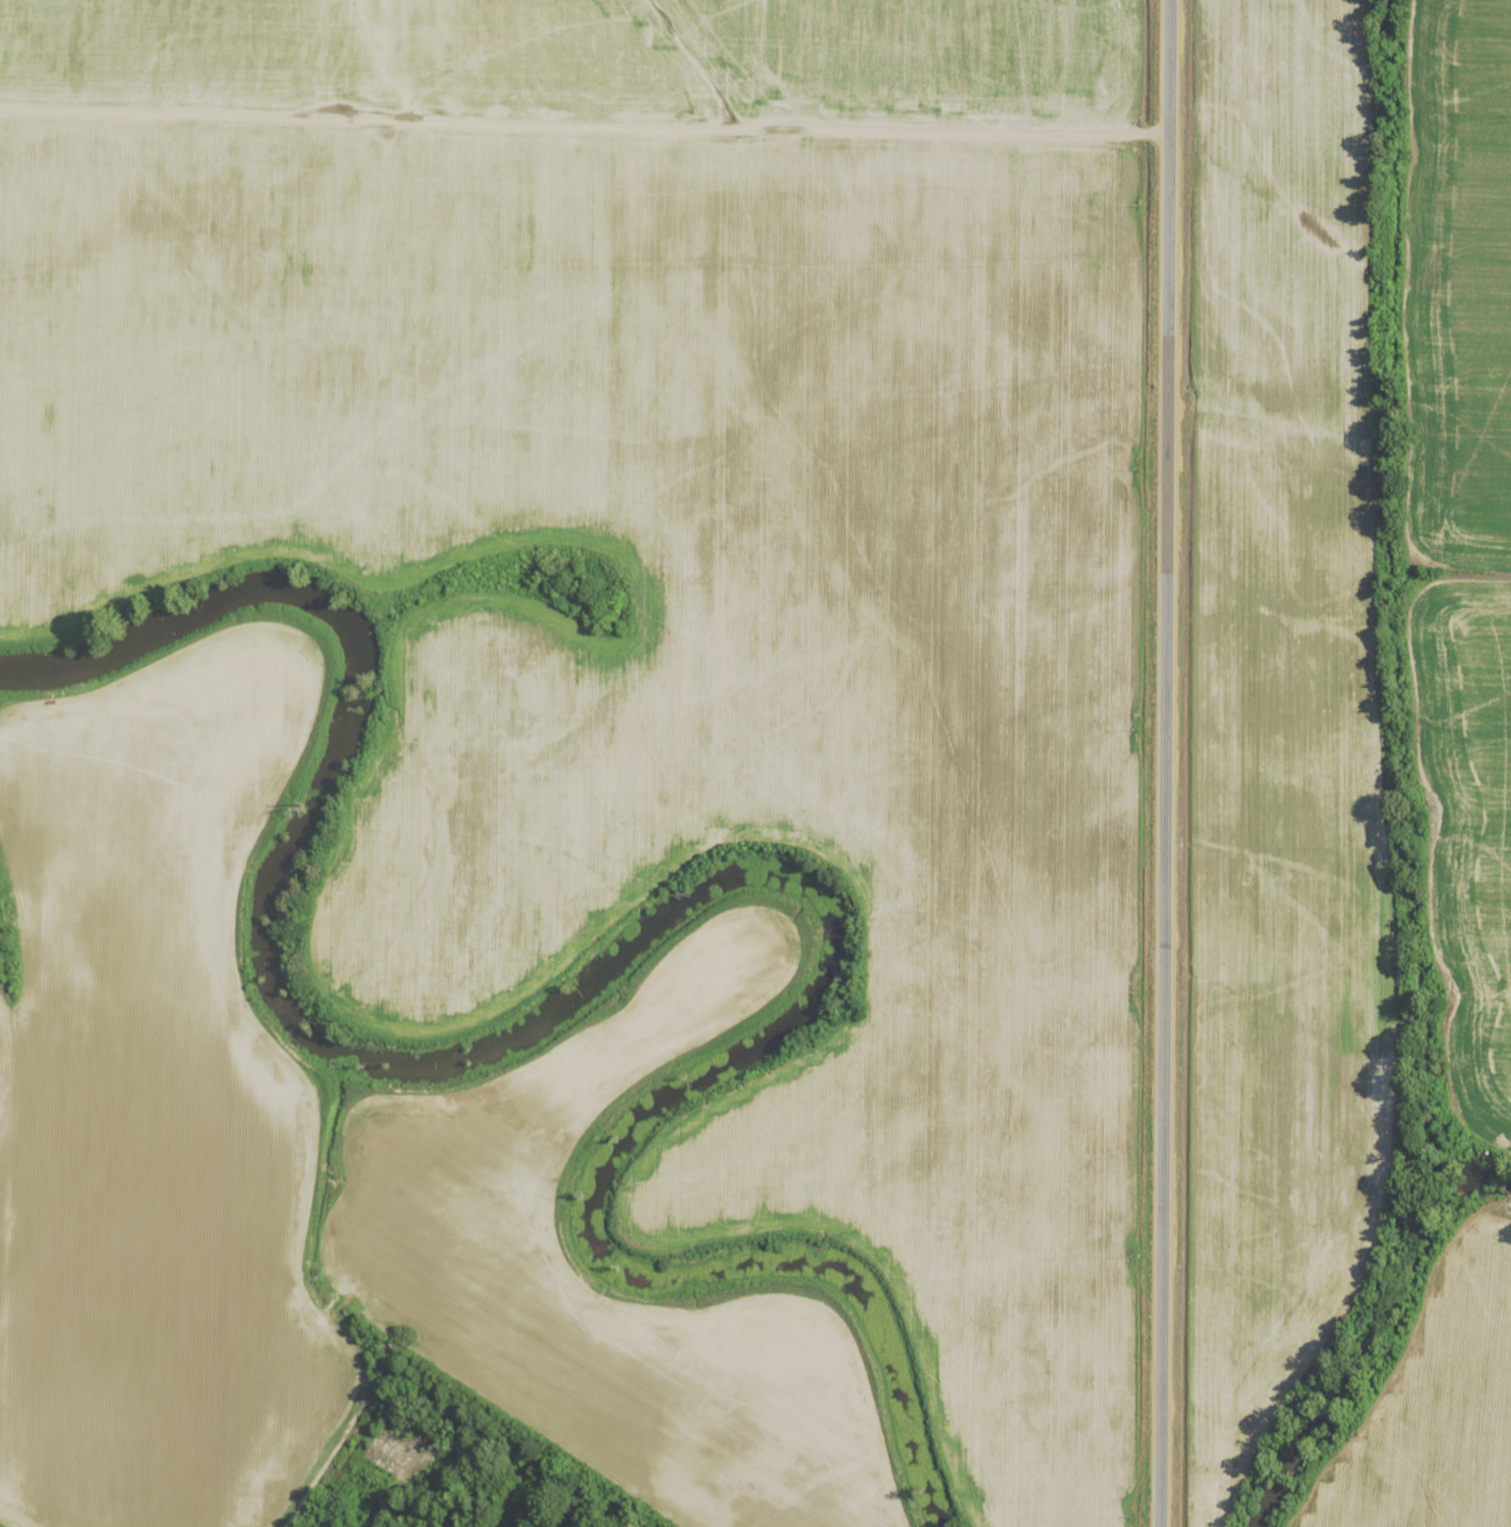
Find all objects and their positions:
road: (380, 120)
road: (876, 136)
road: (1281, 419)
road: (1155, 763)
road: (336, 1443)
road: (515, 1446)
road: (573, 1510)

